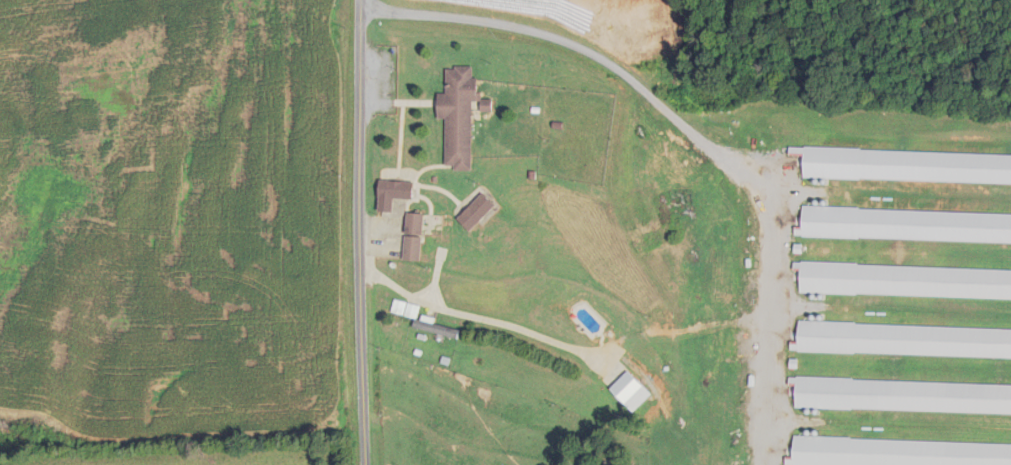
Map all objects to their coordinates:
building: (460, 115)
road: (683, 134)
building: (394, 192)
building: (478, 211)
road: (354, 232)
building: (414, 235)
building: (424, 320)
building: (634, 391)
building: (822, 420)

